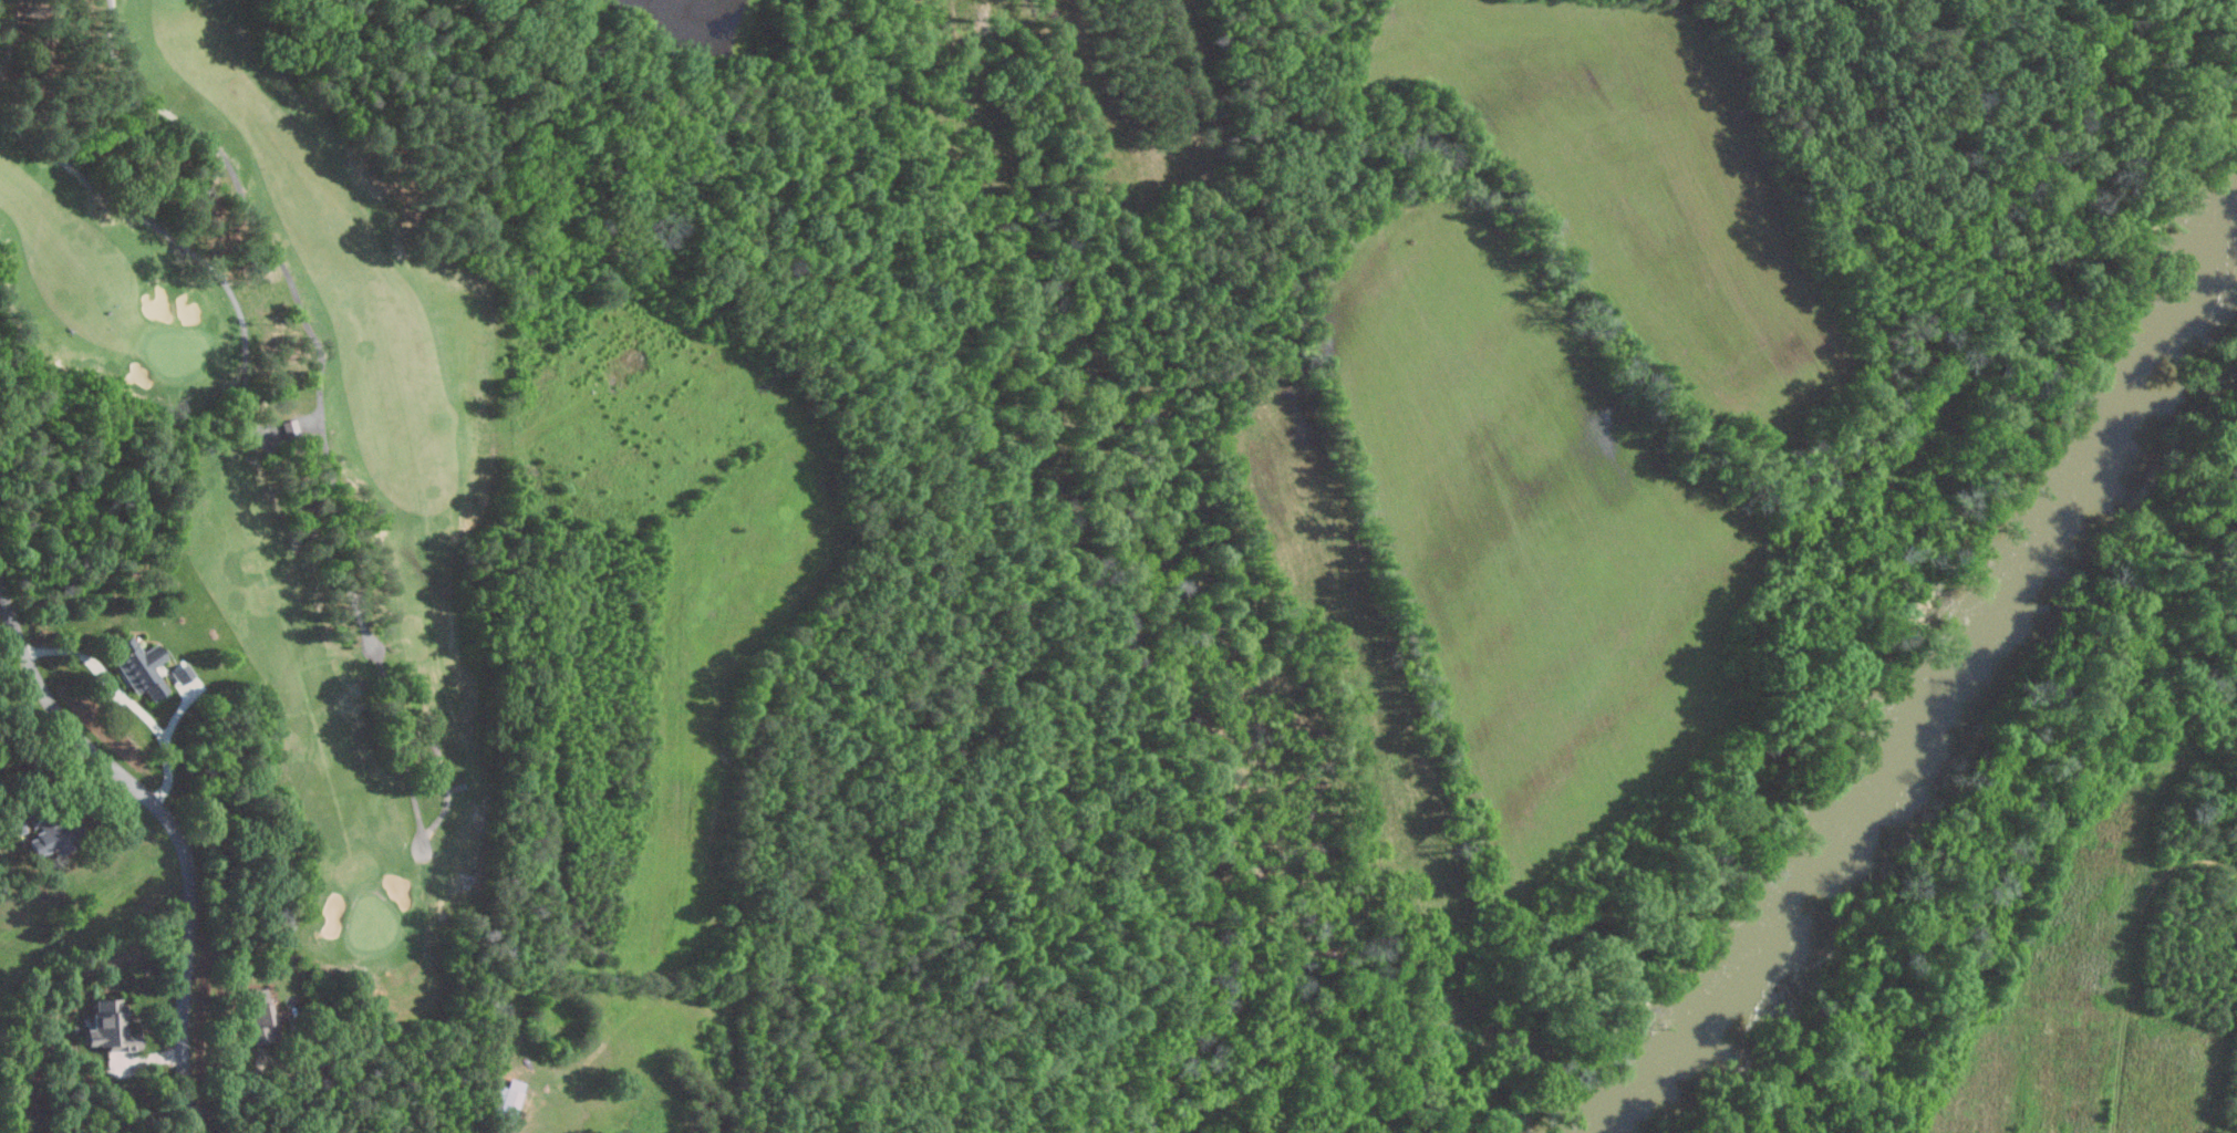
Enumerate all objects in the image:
road: (330, 426)
park: (373, 573)
river: (1985, 636)
building: (138, 666)
building: (184, 679)
road: (127, 698)
road: (174, 831)
building: (35, 839)
building: (259, 1015)
building: (107, 1027)
road: (266, 1067)
river: (1667, 1072)
building: (507, 1100)
river: (1623, 1116)

